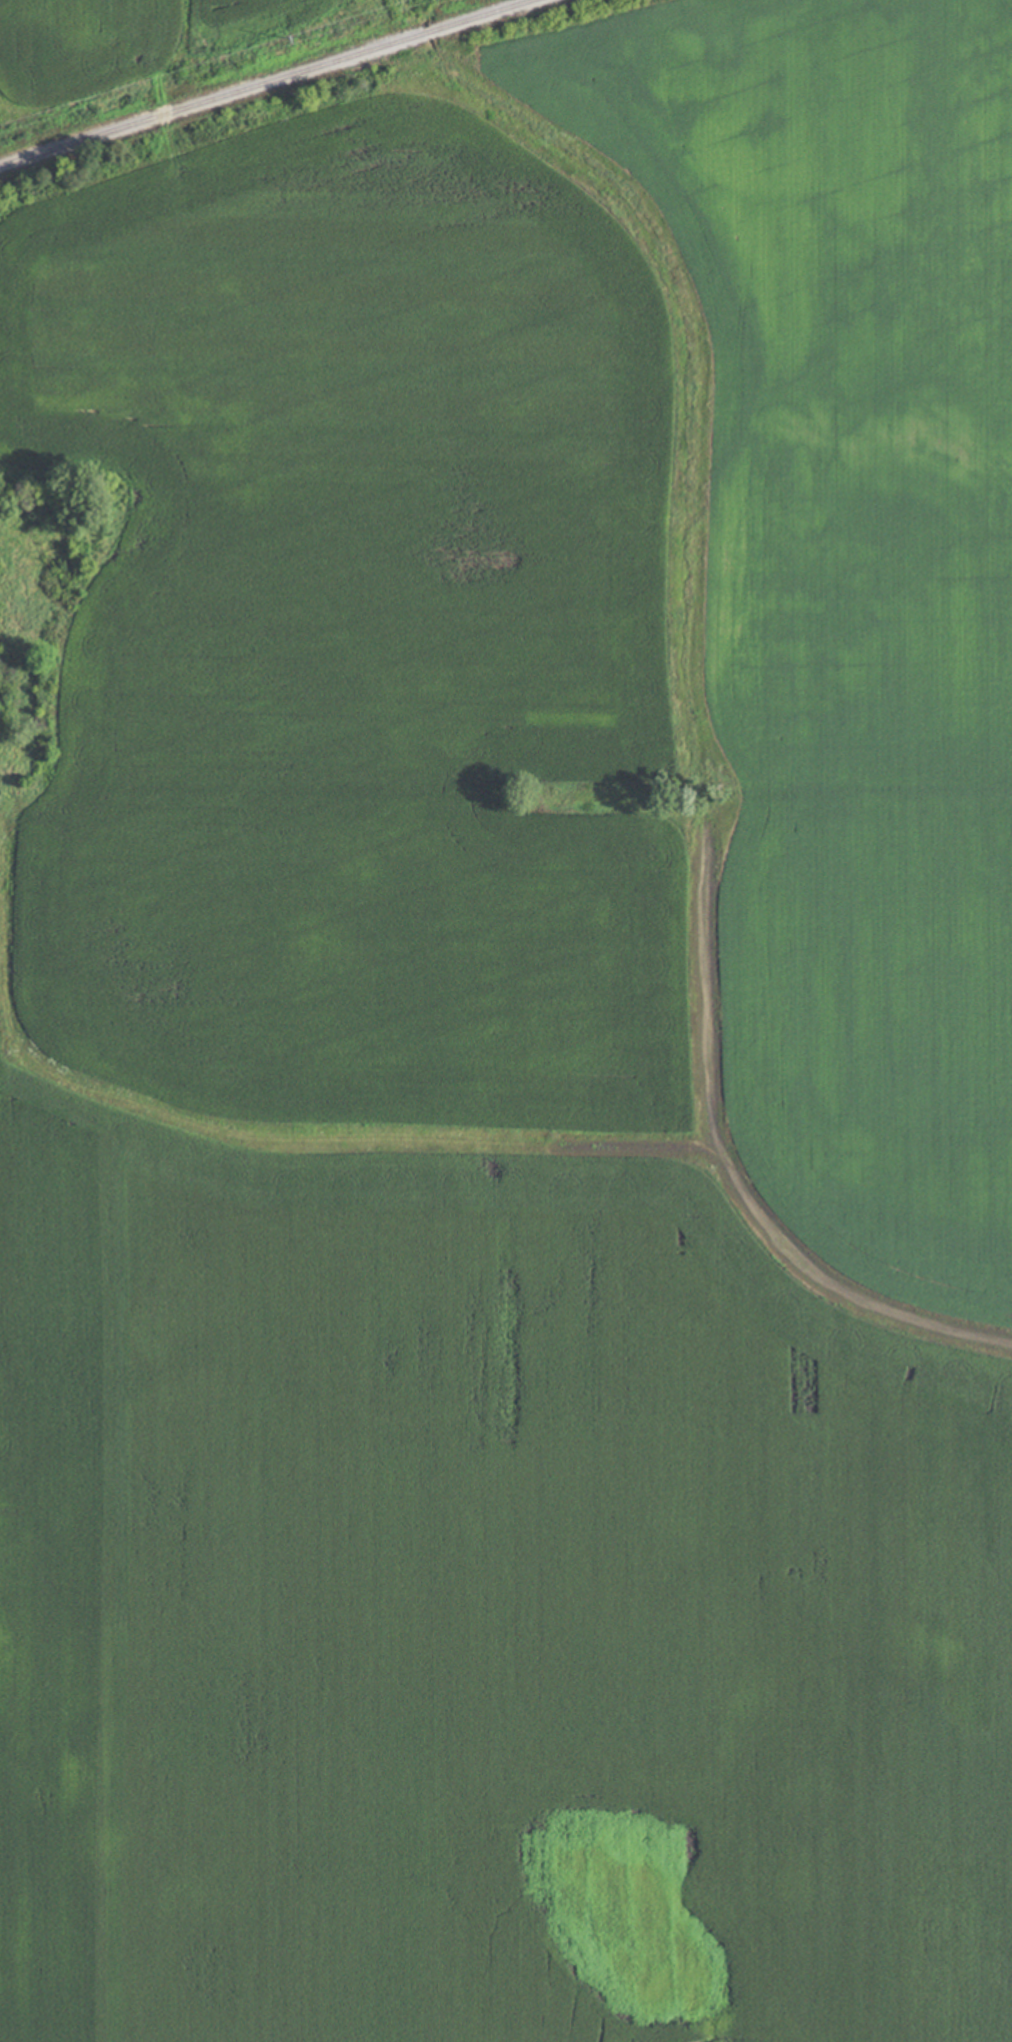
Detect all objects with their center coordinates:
road: (154, 71)
railway: (264, 82)

